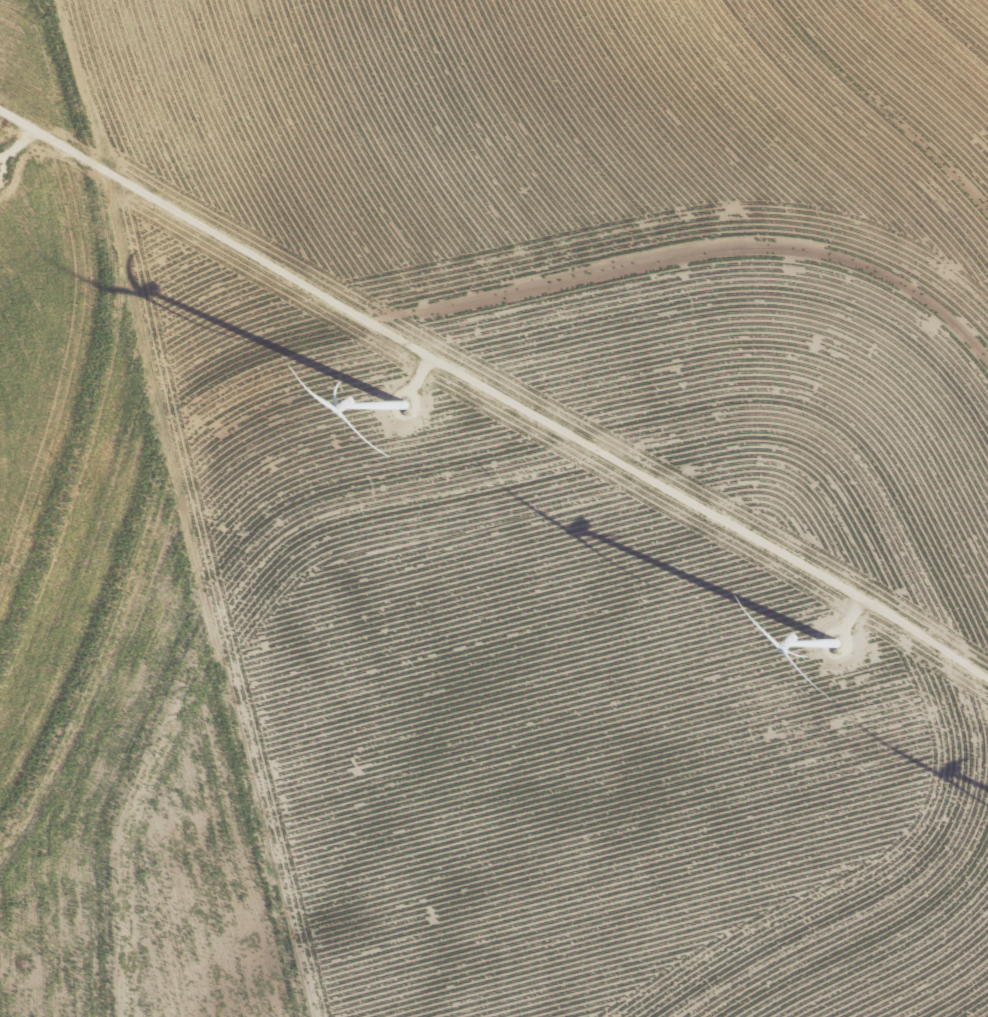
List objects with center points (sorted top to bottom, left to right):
road: (495, 392)
wind turbine: (405, 399)
wind turbine: (835, 652)

